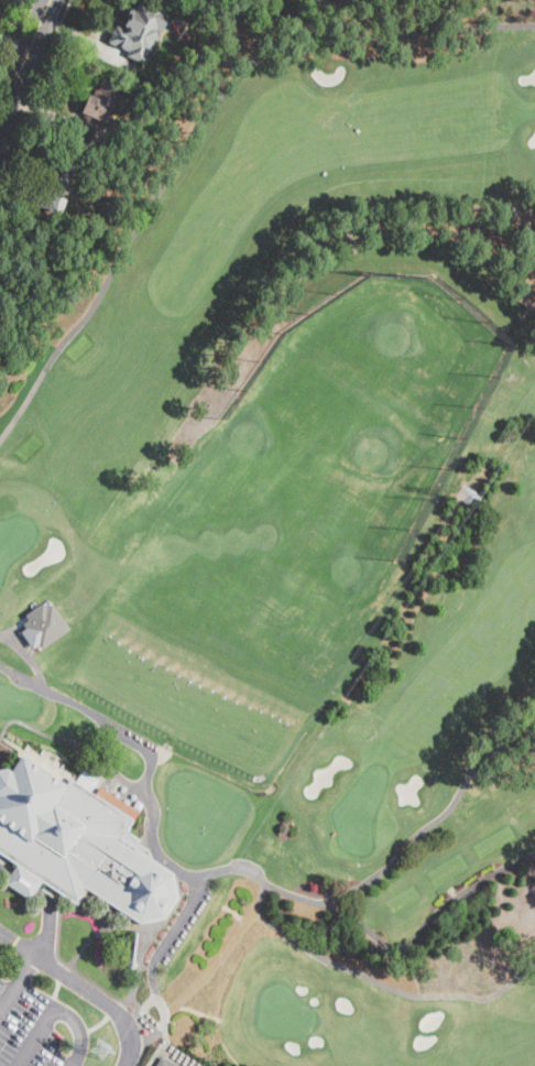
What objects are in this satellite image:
building: (139, 29)
road: (15, 37)
road: (24, 59)
road: (34, 81)
building: (102, 102)
building: (85, 130)
building: (55, 186)
power tower: (460, 493)
park: (314, 522)
building: (43, 624)
building: (78, 844)
road: (383, 868)
building: (23, 882)
road: (45, 900)
building: (133, 953)
road: (18, 983)
road: (85, 988)
road: (55, 1005)
parking lot: (39, 1029)
power tower: (99, 1049)
building: (164, 1063)

